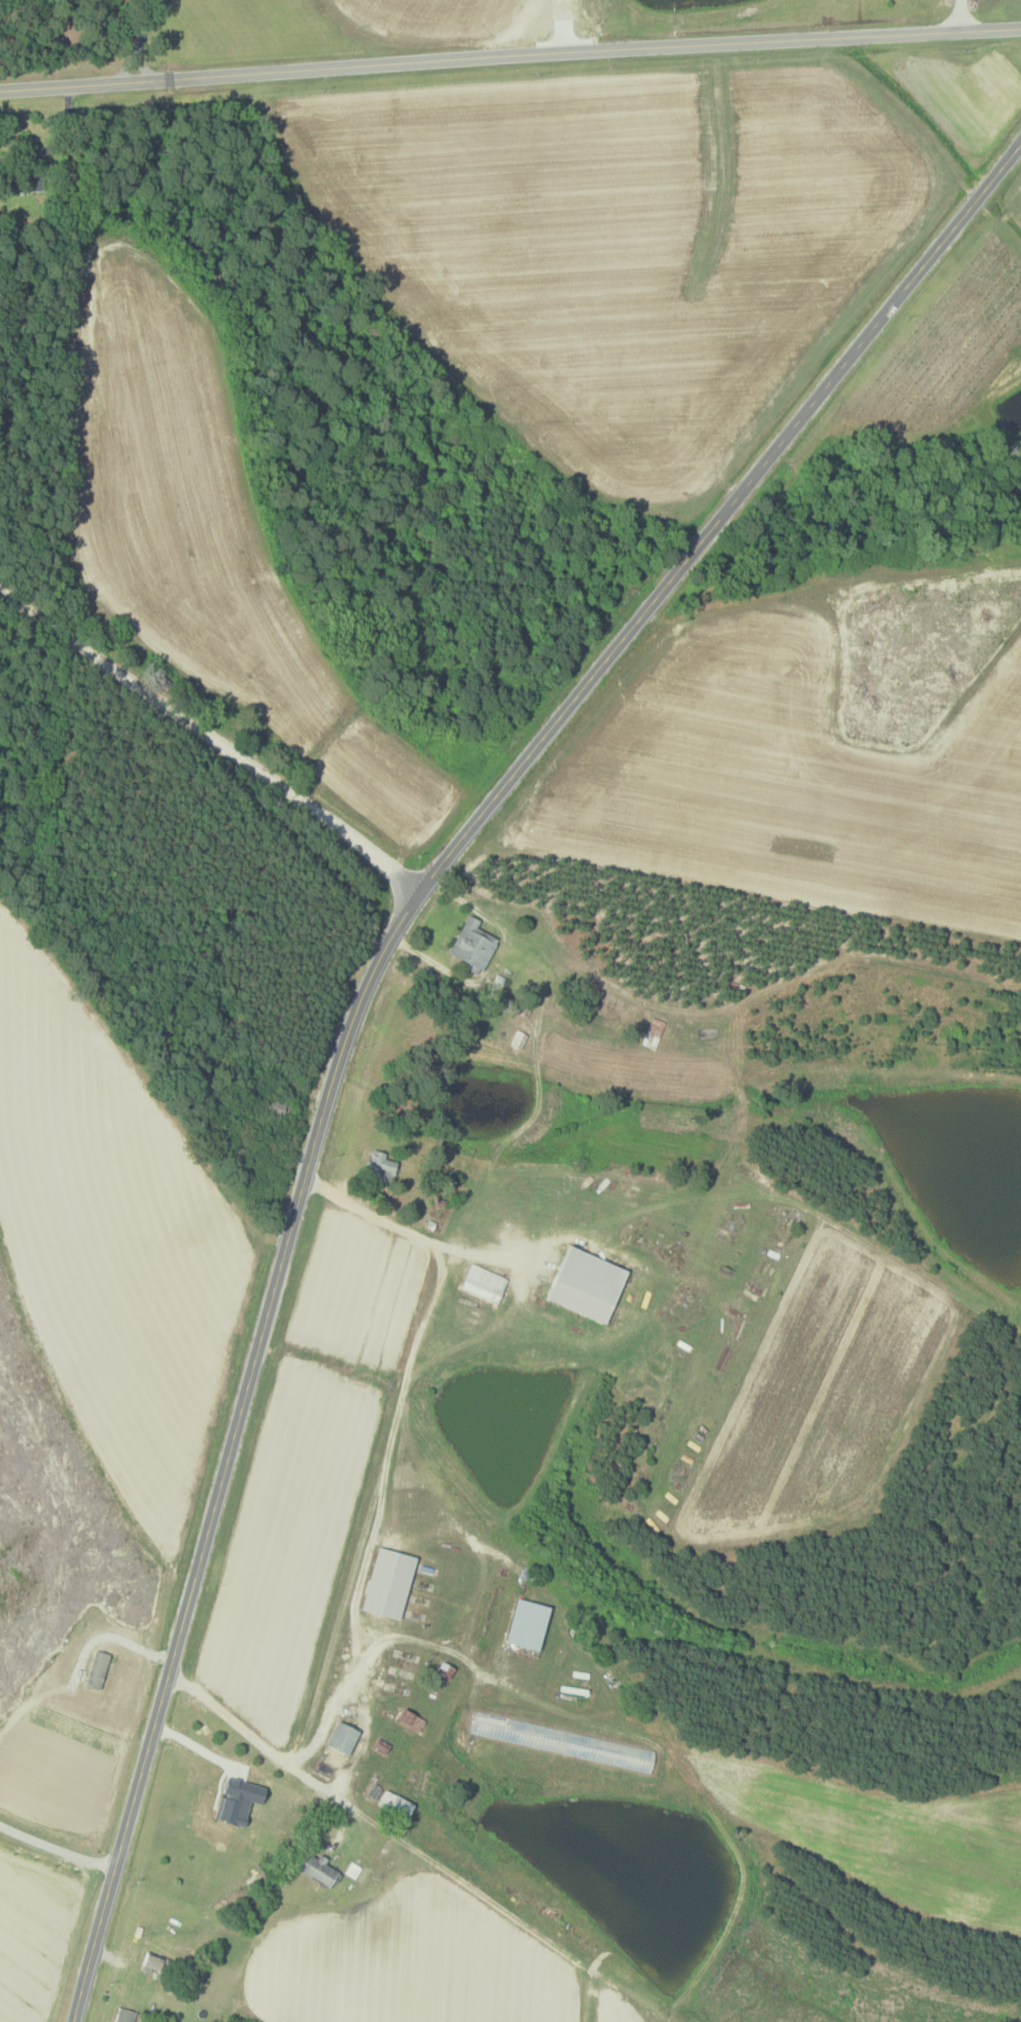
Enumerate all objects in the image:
road: (961, 17)
road: (141, 41)
road: (510, 57)
road: (53, 143)
road: (212, 742)
building: (475, 944)
road: (365, 991)
building: (655, 1032)
building: (382, 1164)
road: (421, 1226)
building: (486, 1282)
building: (589, 1282)
road: (391, 1446)
building: (391, 1582)
building: (529, 1628)
road: (30, 1696)
road: (336, 1707)
building: (413, 1718)
building: (345, 1737)
building: (624, 1754)
building: (376, 1790)
building: (397, 1803)
building: (212, 1817)
road: (57, 1848)
building: (319, 1869)
building: (155, 1961)
building: (127, 2015)

